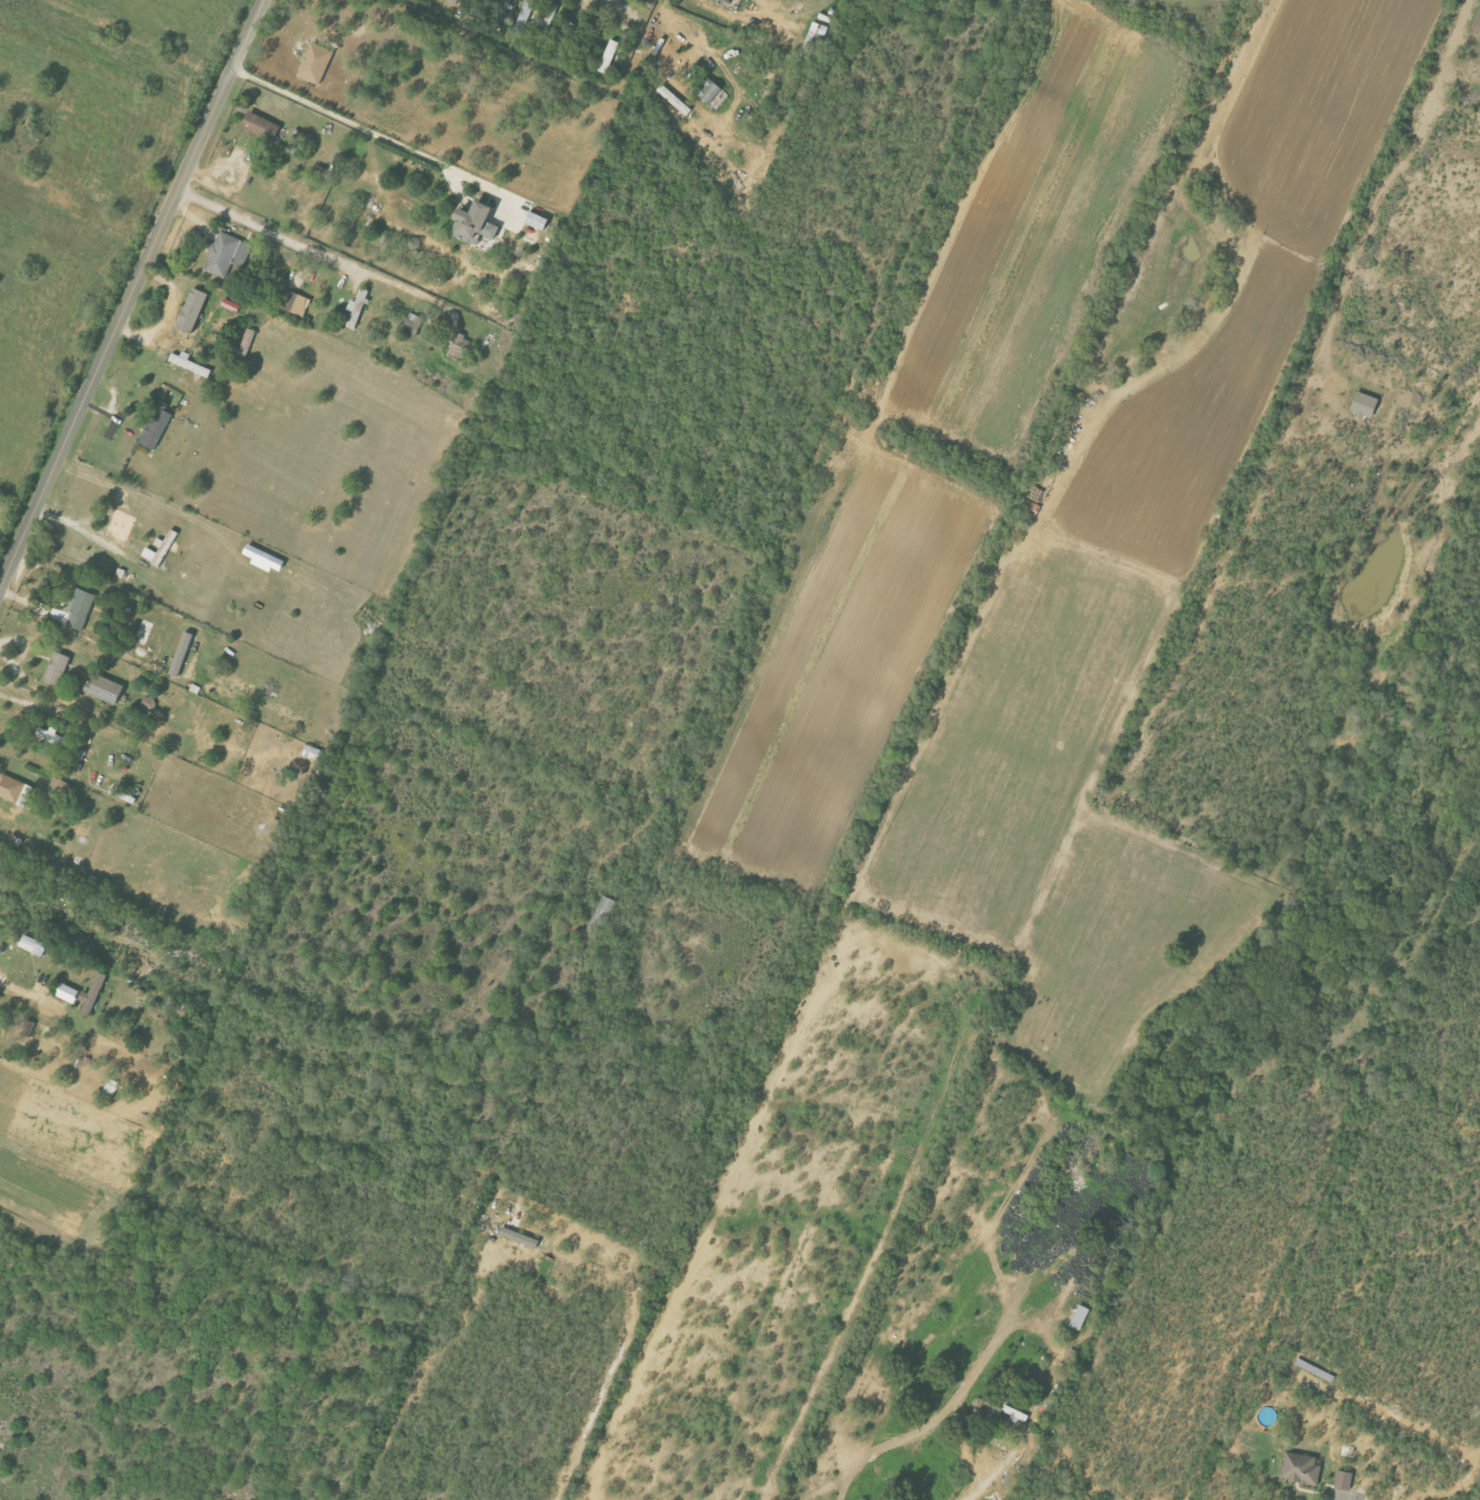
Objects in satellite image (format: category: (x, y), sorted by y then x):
road: (618, 6)
building: (524, 16)
building: (1477, 24)
building: (815, 40)
building: (315, 63)
building: (709, 91)
road: (355, 123)
building: (262, 127)
road: (1383, 194)
building: (538, 220)
building: (476, 223)
road: (320, 253)
building: (227, 254)
road: (131, 293)
building: (295, 303)
building: (231, 305)
building: (193, 310)
building: (357, 310)
road: (168, 315)
building: (413, 324)
building: (167, 342)
building: (188, 364)
building: (1366, 404)
building: (157, 427)
road: (147, 490)
road: (83, 532)
building: (161, 549)
building: (265, 559)
building: (76, 608)
building: (182, 654)
building: (57, 668)
road: (22, 676)
building: (105, 689)
building: (11, 788)
building: (603, 913)
building: (0, 931)
building: (33, 945)
road: (24, 993)
building: (68, 993)
building: (93, 995)
building: (111, 1088)
building: (1079, 1317)
road: (627, 1321)
building: (1011, 1411)
road: (1018, 1439)
building: (1301, 1468)
road: (1330, 1479)
building: (1344, 1480)

